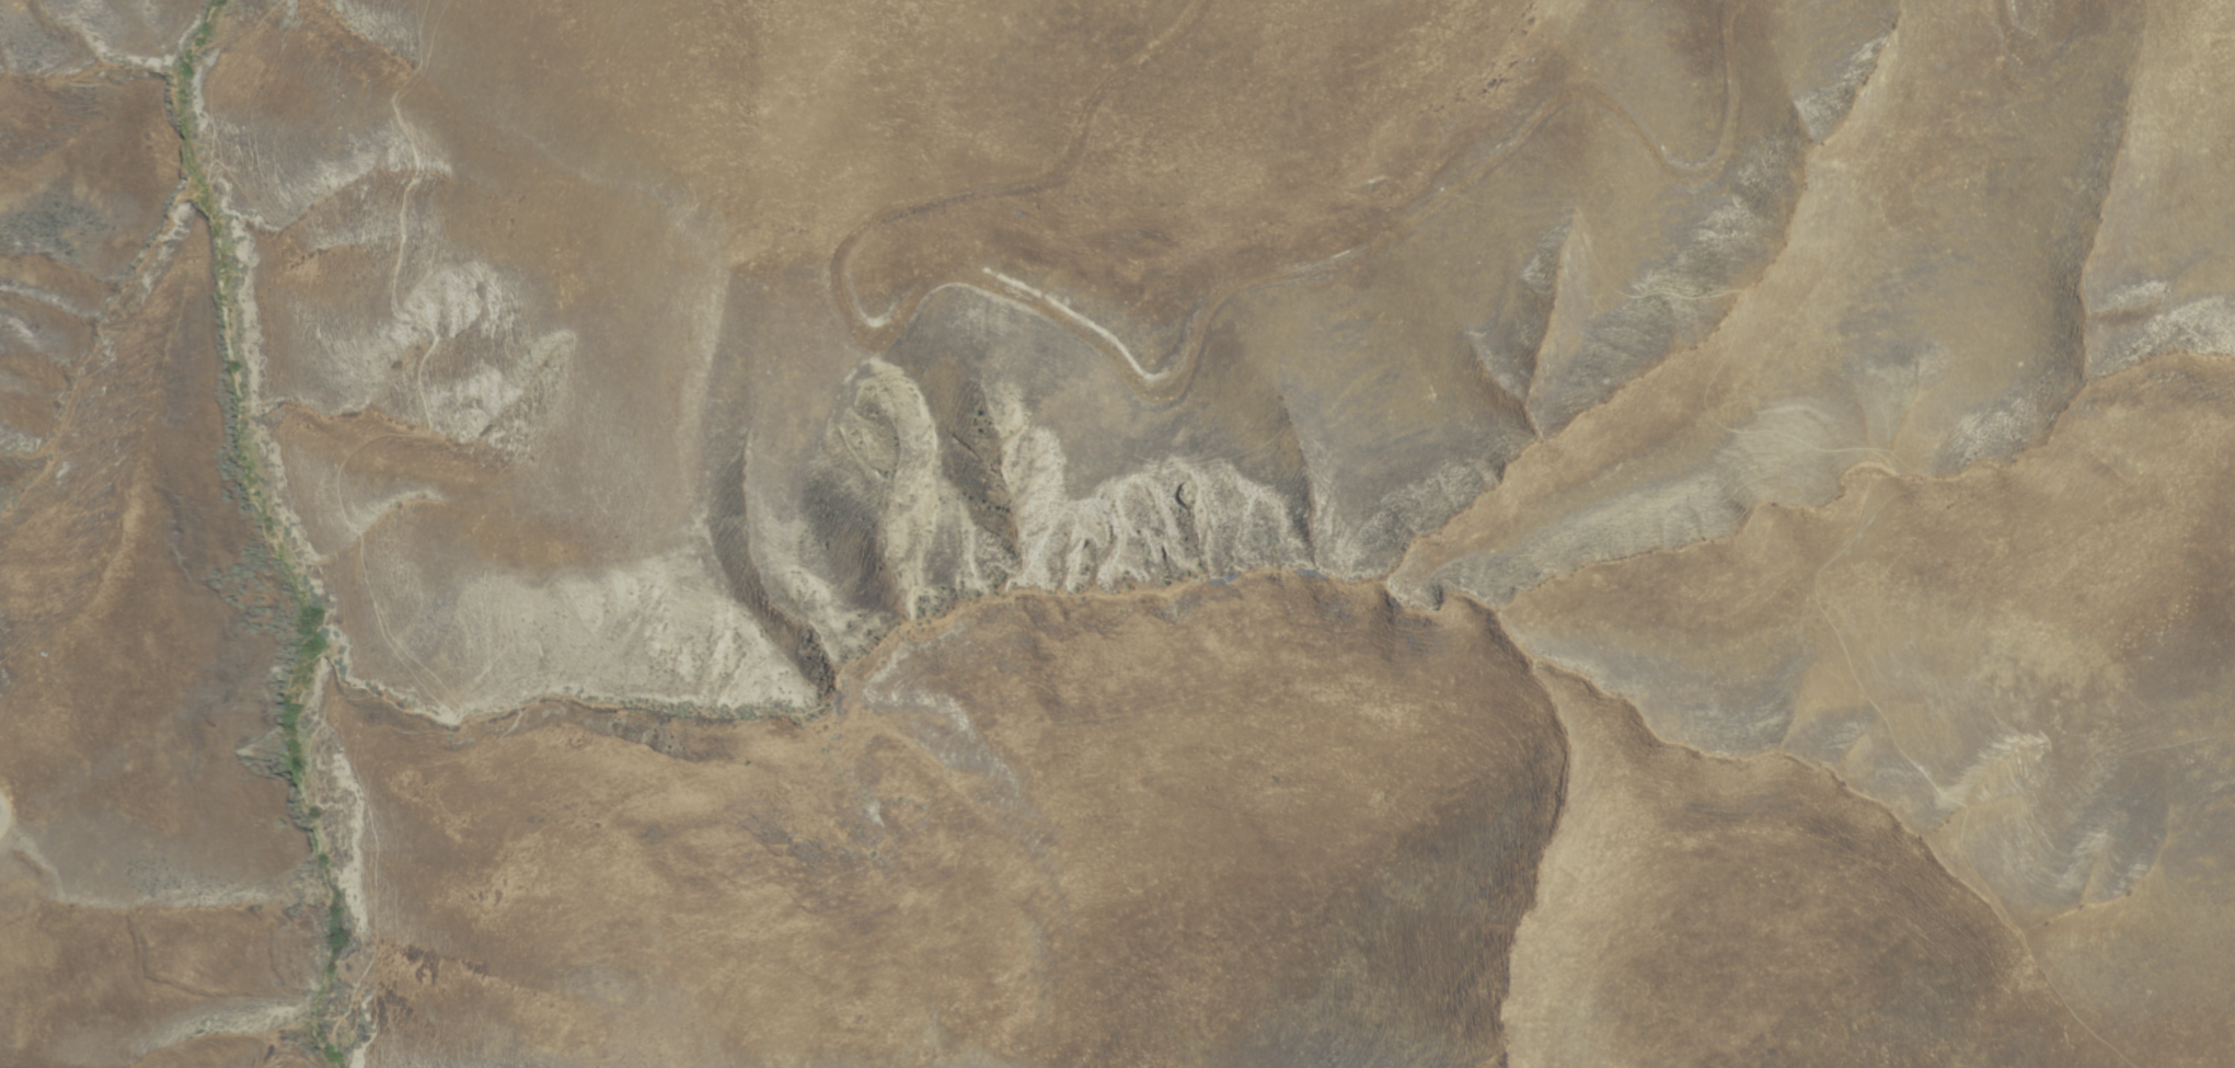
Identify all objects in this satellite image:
road: (88, 908)

